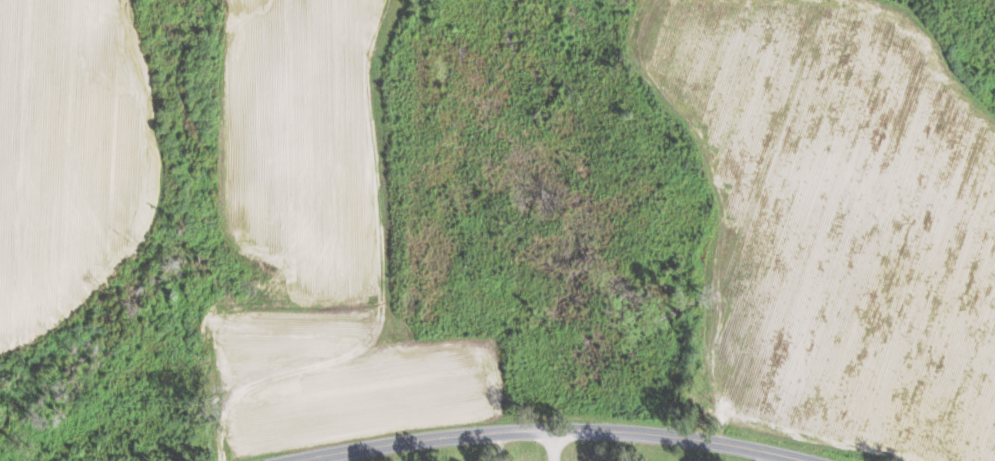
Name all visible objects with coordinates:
road: (553, 433)
road: (553, 447)
road: (621, 448)
road: (760, 457)

